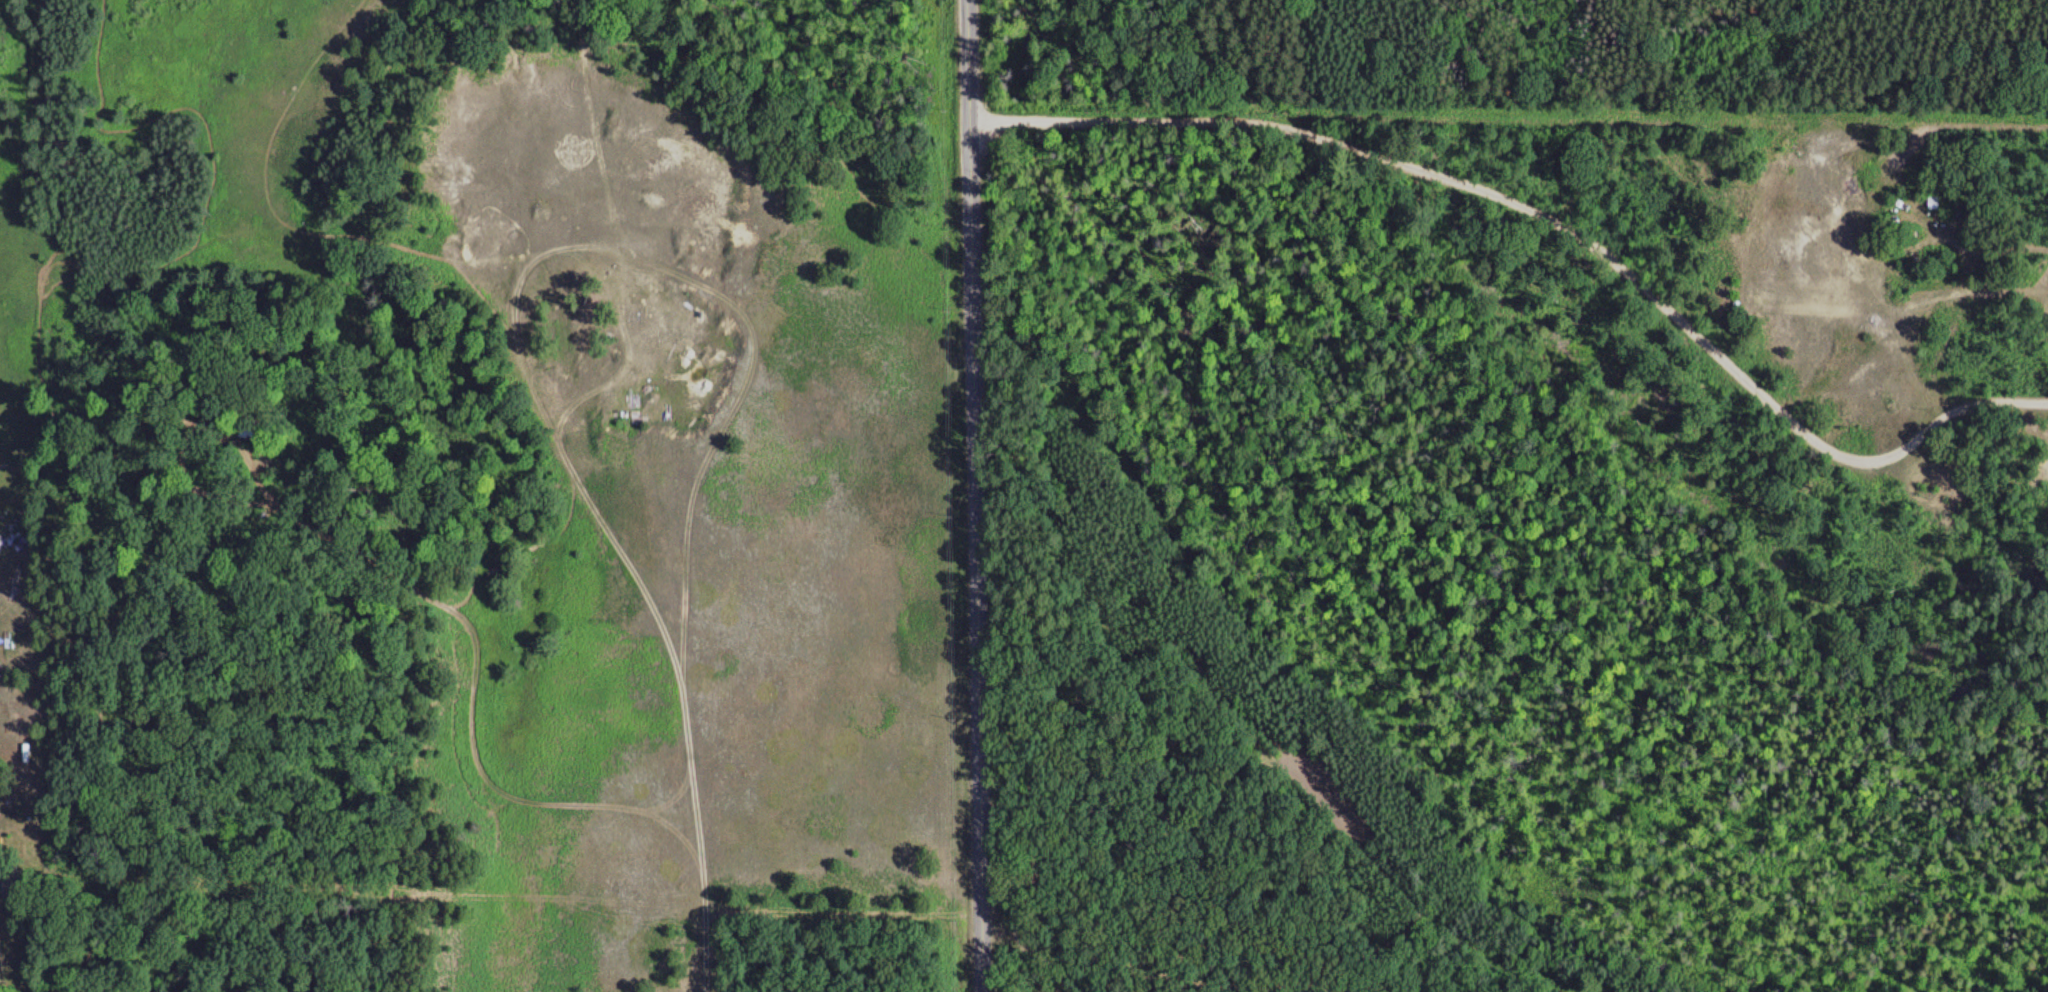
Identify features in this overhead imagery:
building: (1933, 201)
road: (1555, 214)
road: (602, 242)
road: (977, 495)
road: (1079, 665)
road: (695, 832)

